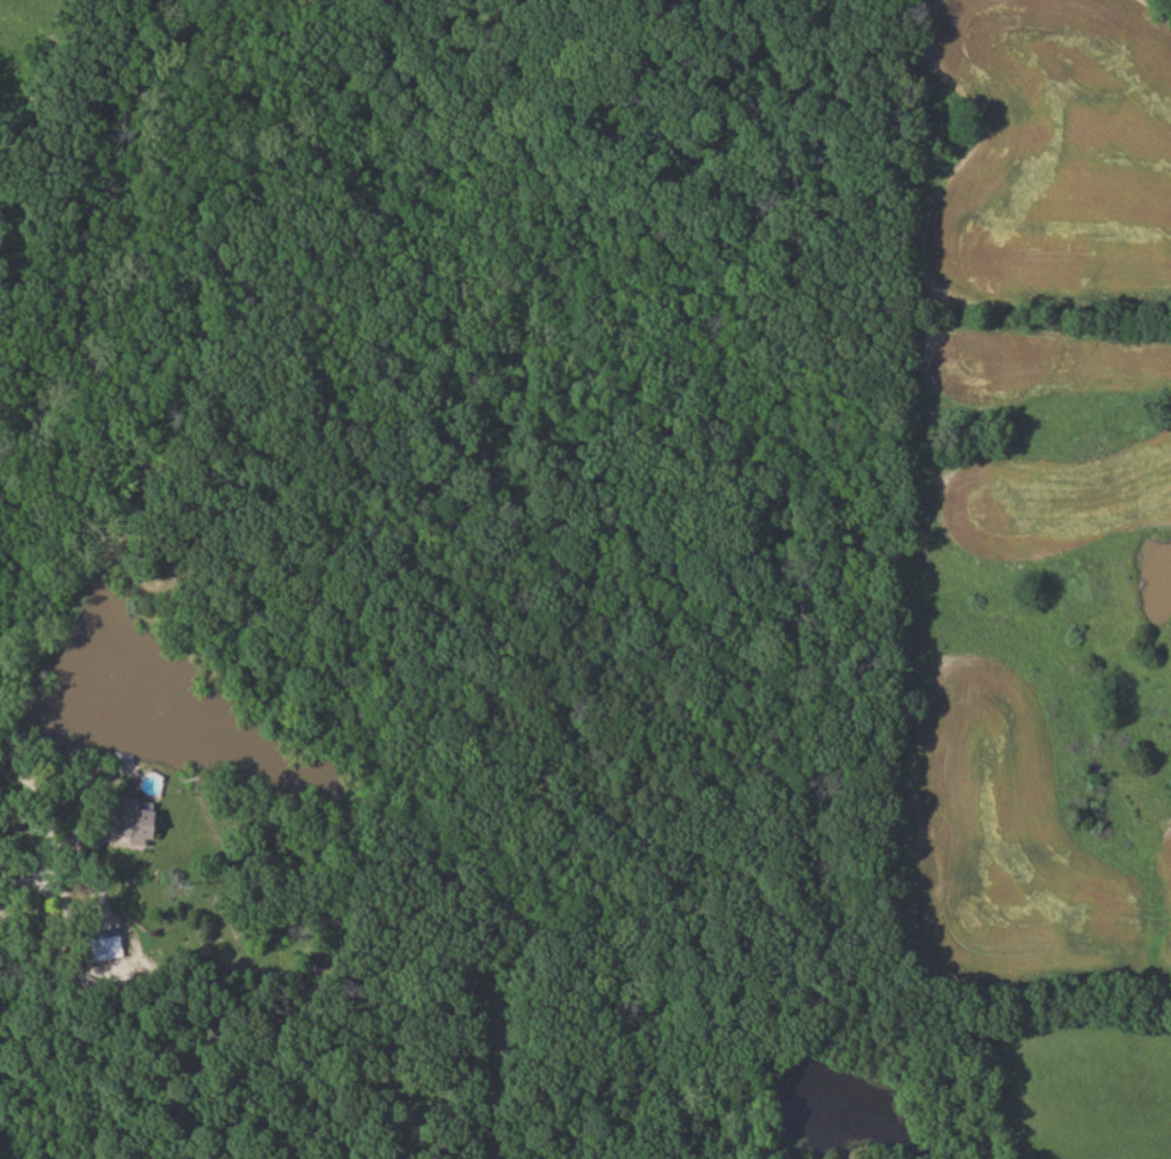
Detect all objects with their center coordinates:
building: (134, 817)

